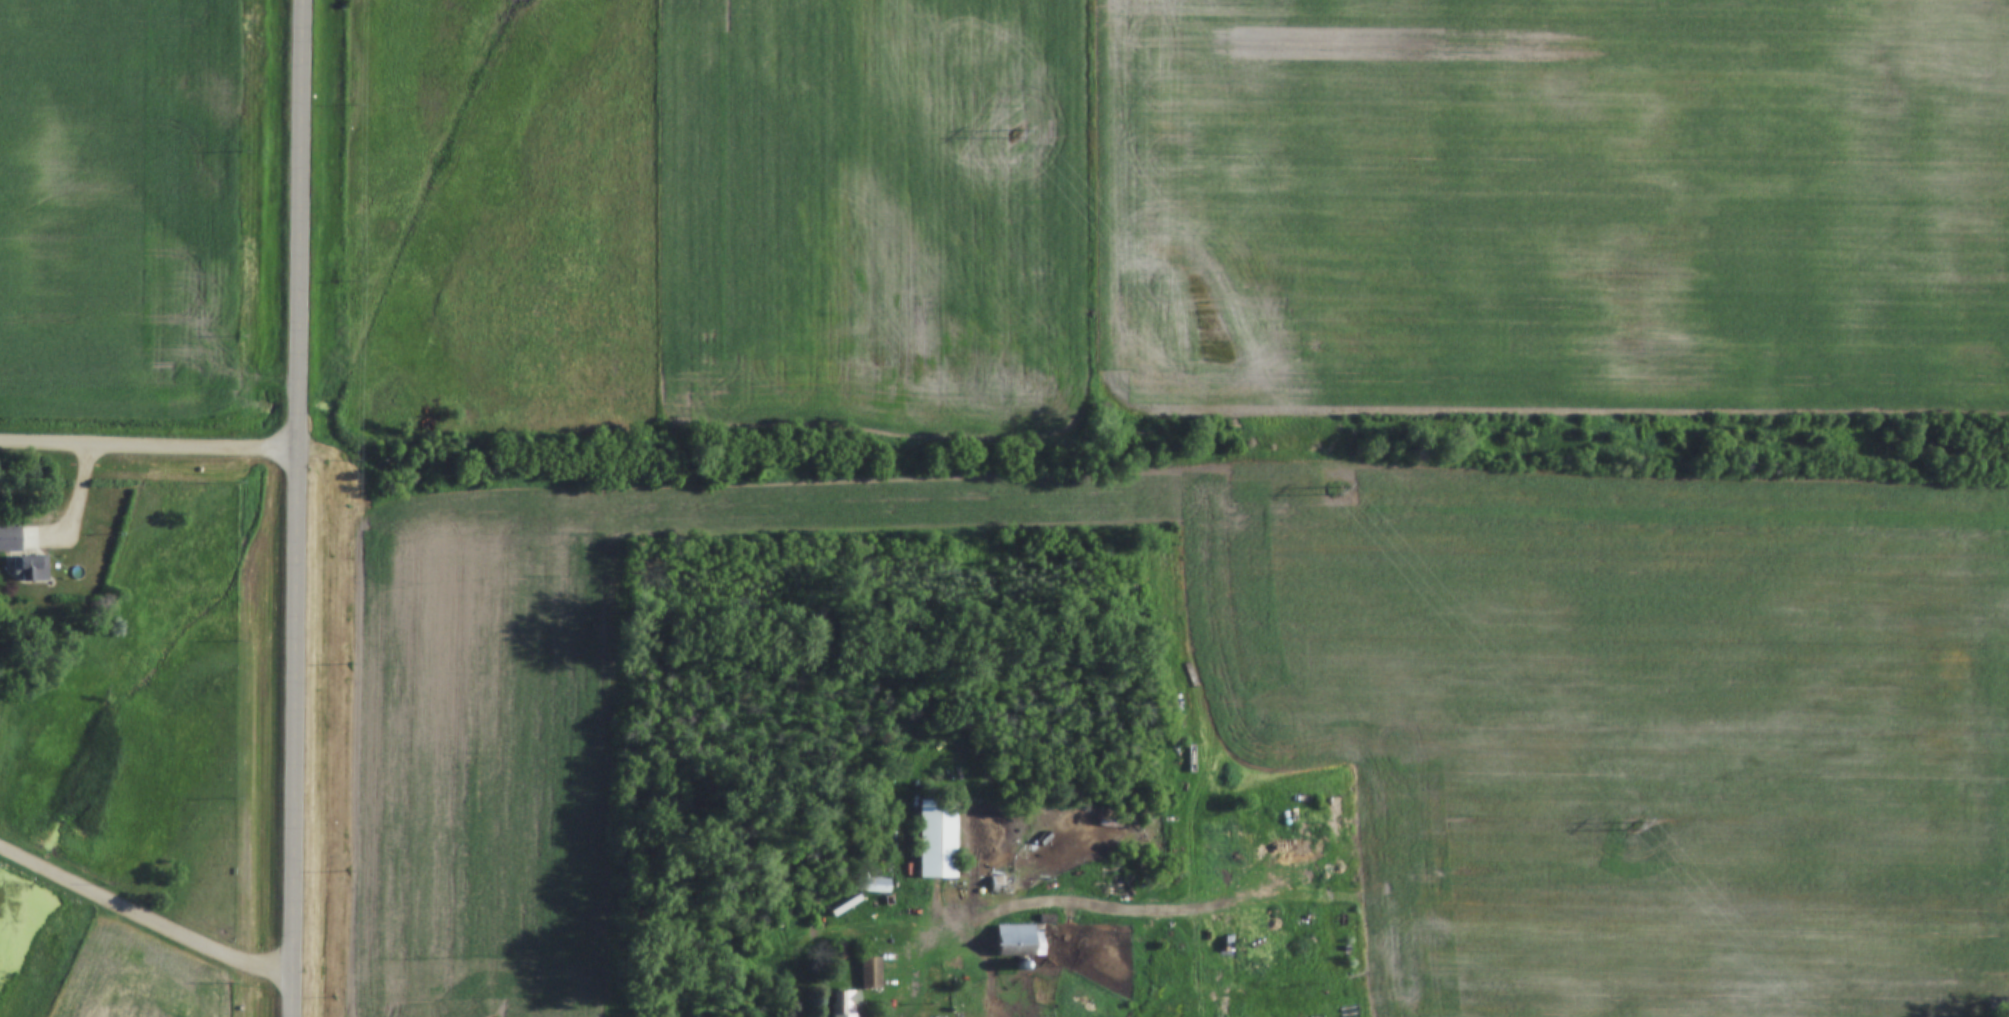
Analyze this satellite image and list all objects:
power tower: (1016, 128)
road: (151, 447)
road: (302, 508)
building: (15, 539)
building: (31, 567)
power tower: (1634, 823)
building: (940, 838)
road: (147, 918)
road: (849, 929)
building: (1022, 939)
building: (872, 972)
road: (944, 992)
building: (849, 1003)

